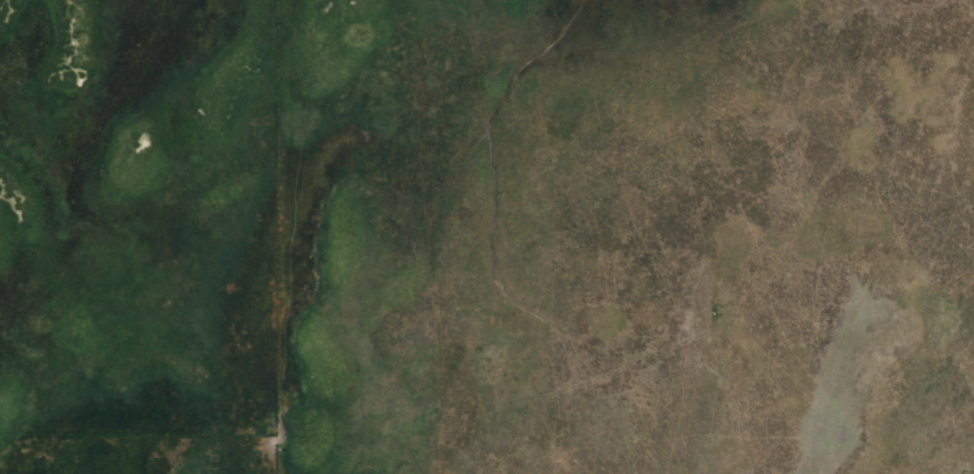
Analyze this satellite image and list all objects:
crop: (30, 123)
crop: (592, 250)

